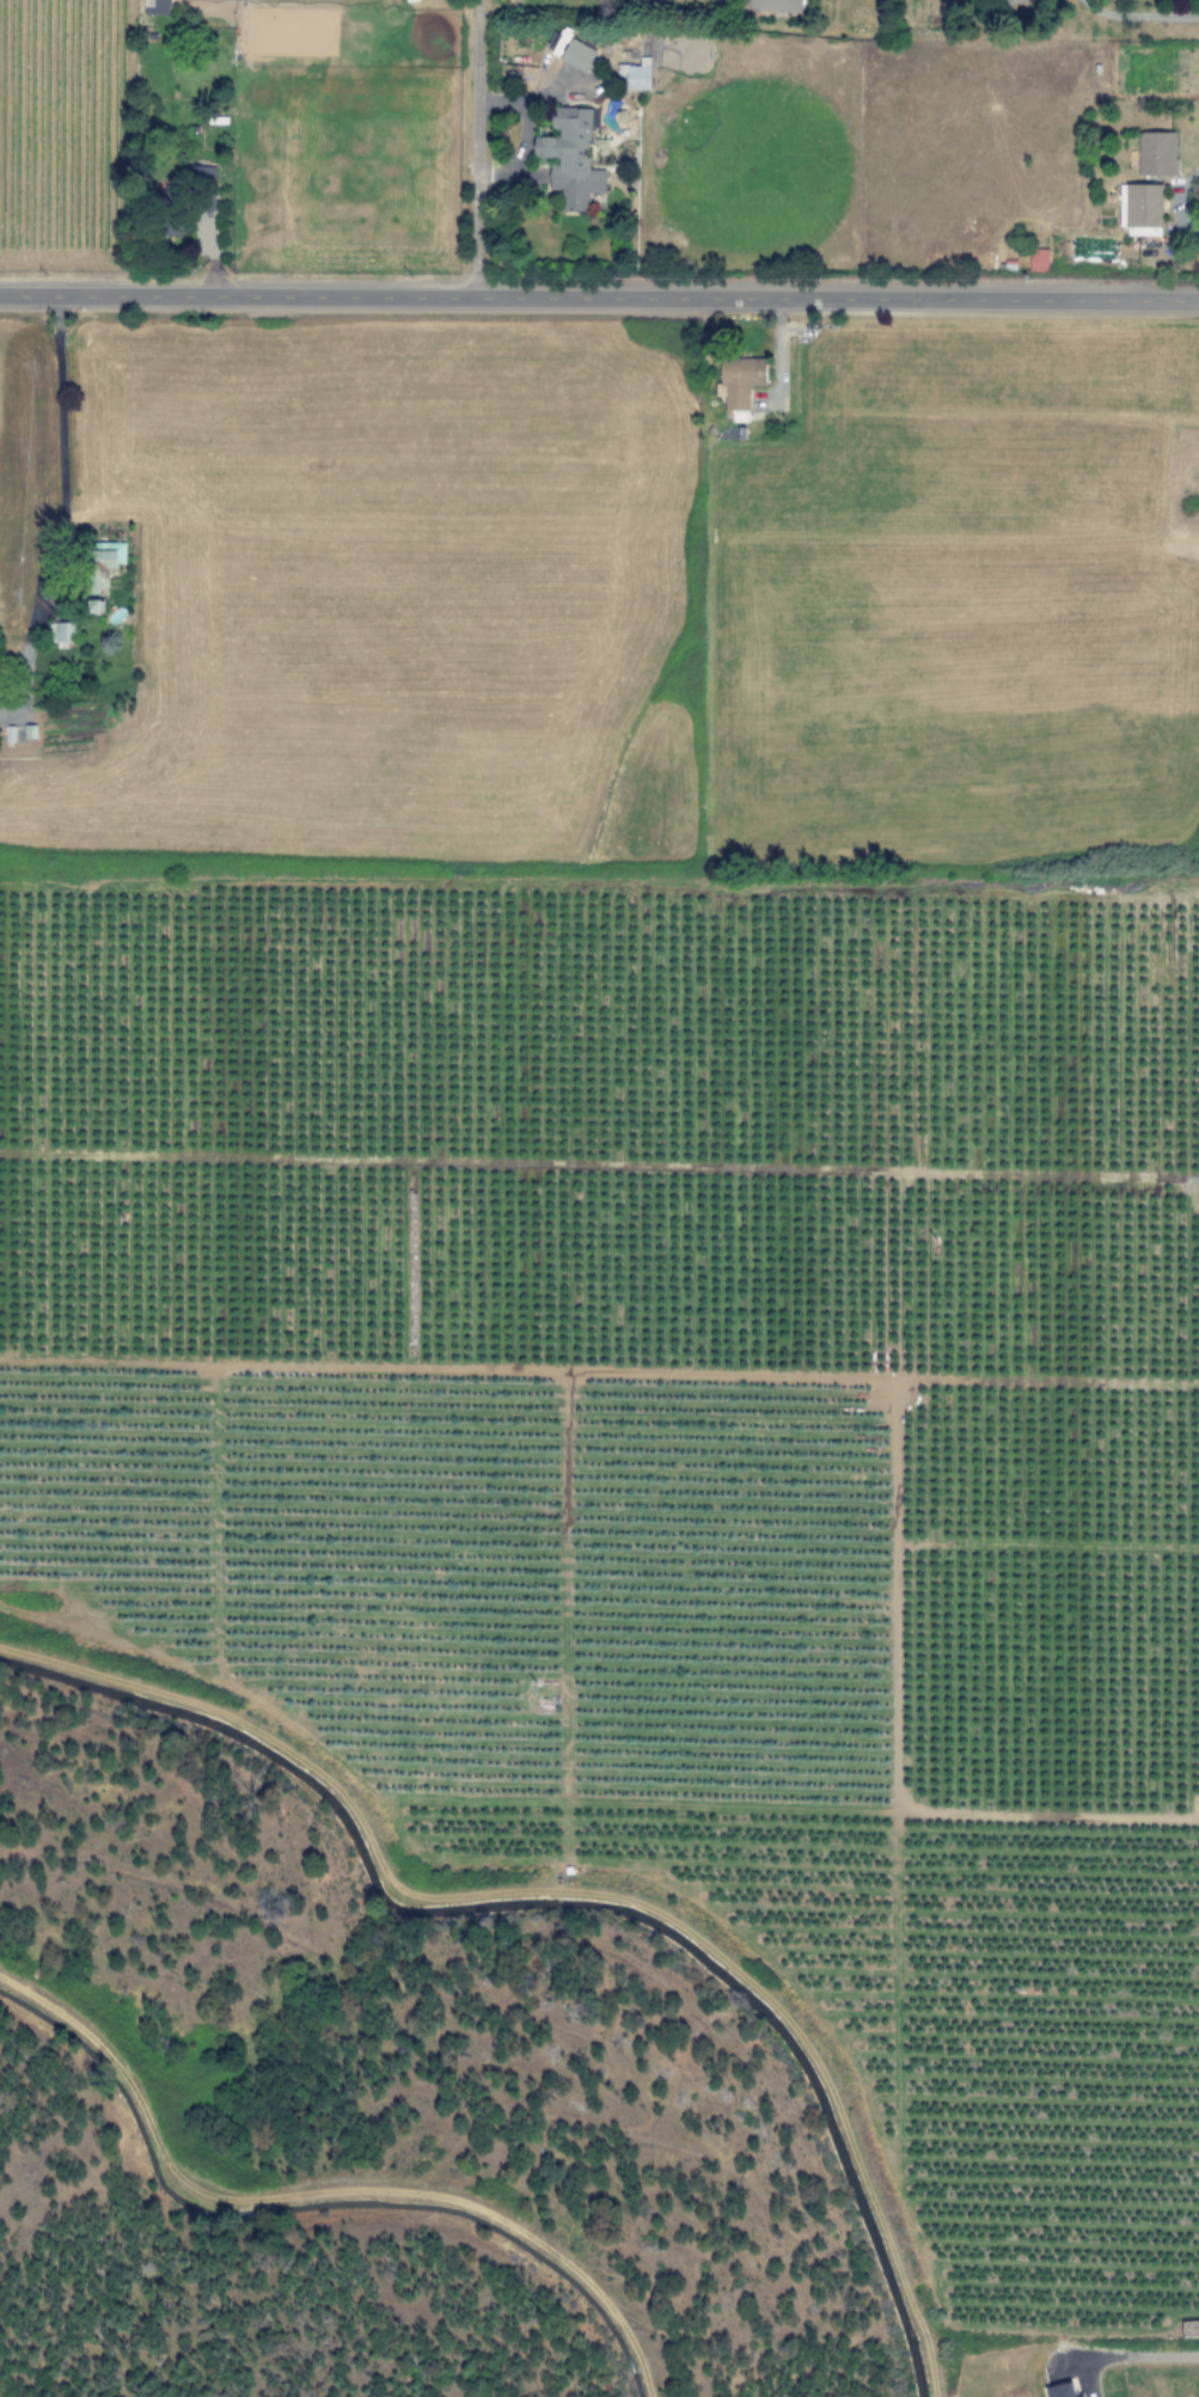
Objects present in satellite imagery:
building: (1014, 1)
building: (778, 6)
building: (157, 7)
building: (579, 55)
building: (635, 75)
road: (482, 148)
building: (1157, 153)
building: (570, 158)
building: (207, 177)
building: (1140, 209)
building: (1038, 259)
road: (599, 298)
building: (740, 385)
building: (106, 570)
building: (57, 632)
road: (317, 2195)
building: (1062, 2390)
building: (1083, 2396)

